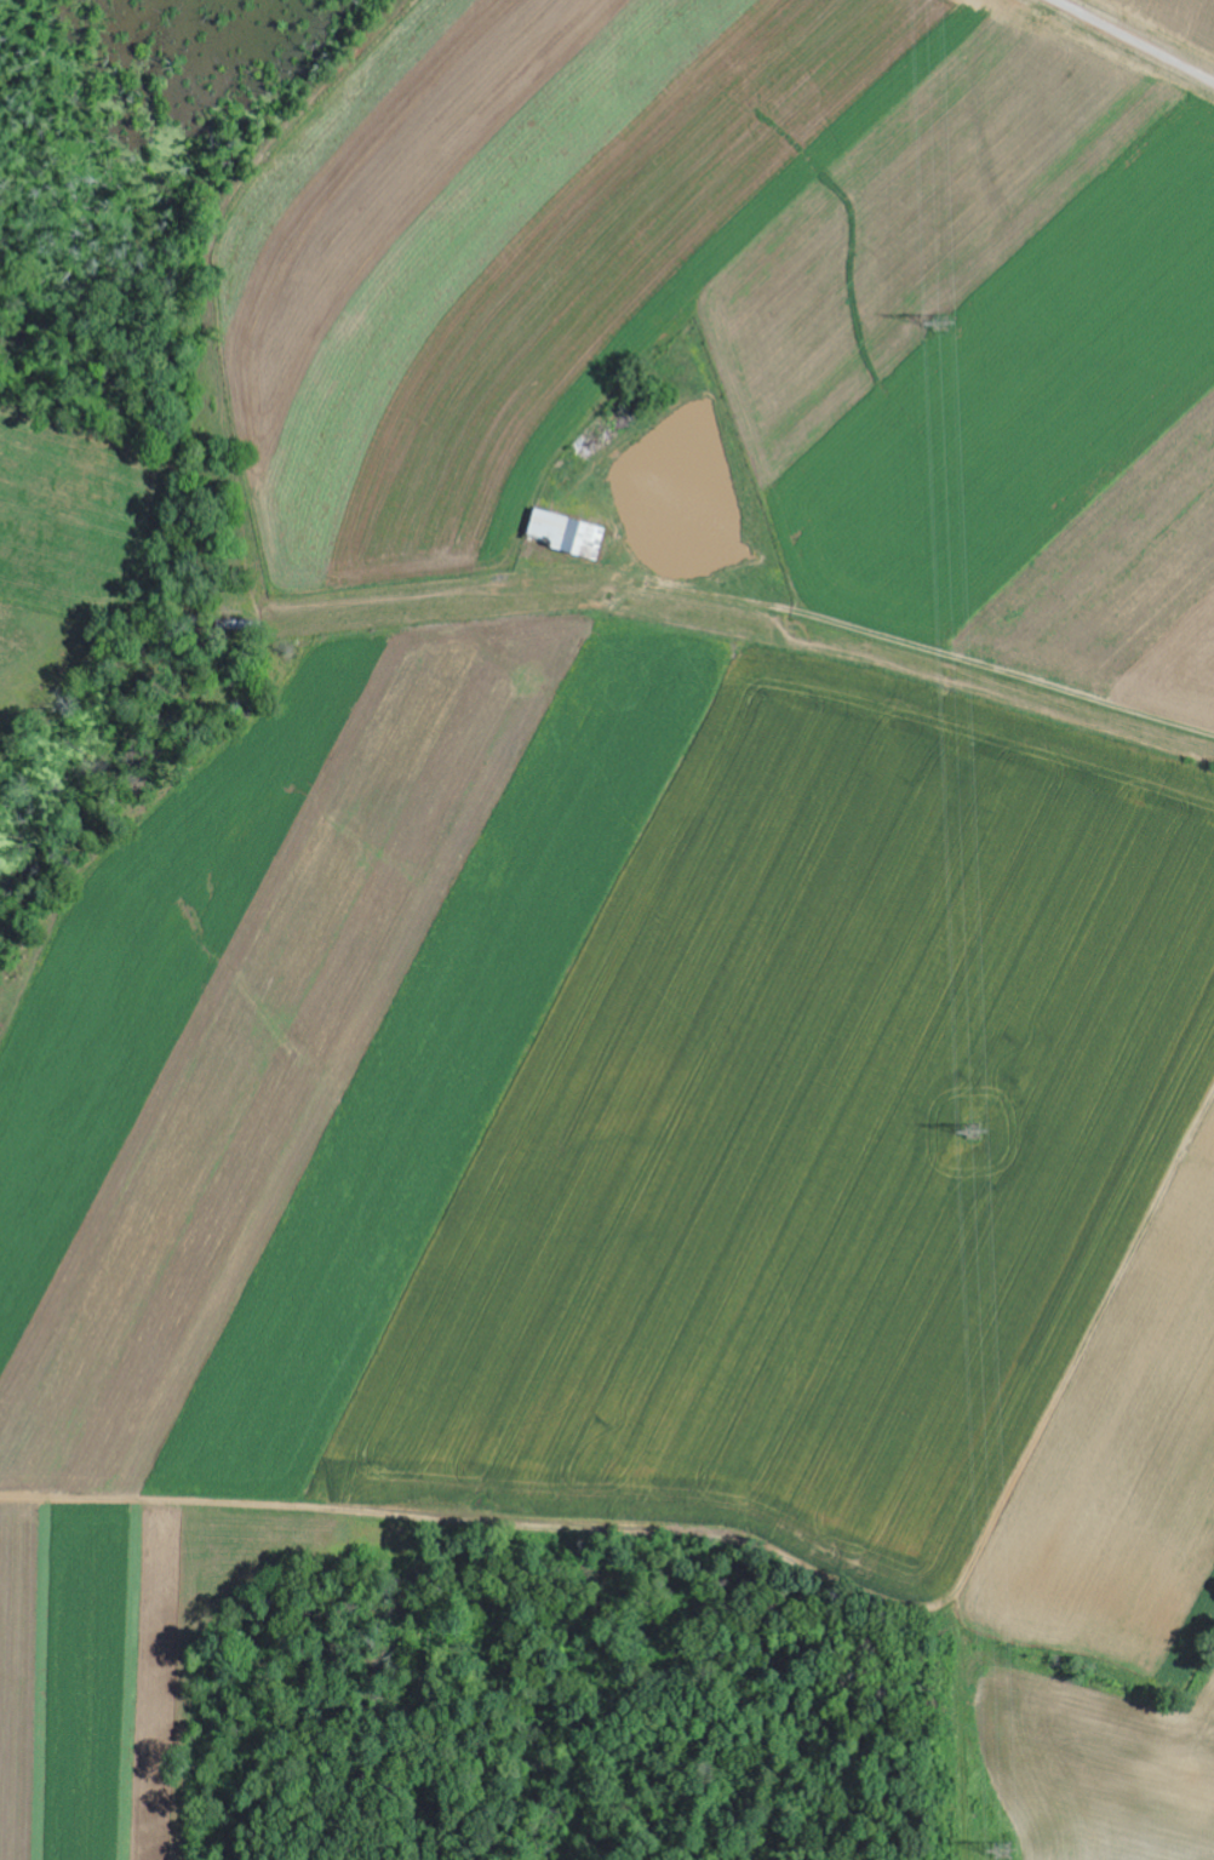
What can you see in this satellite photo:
power tower: (943, 326)
building: (565, 533)
power tower: (970, 1135)
power tower: (995, 1855)

